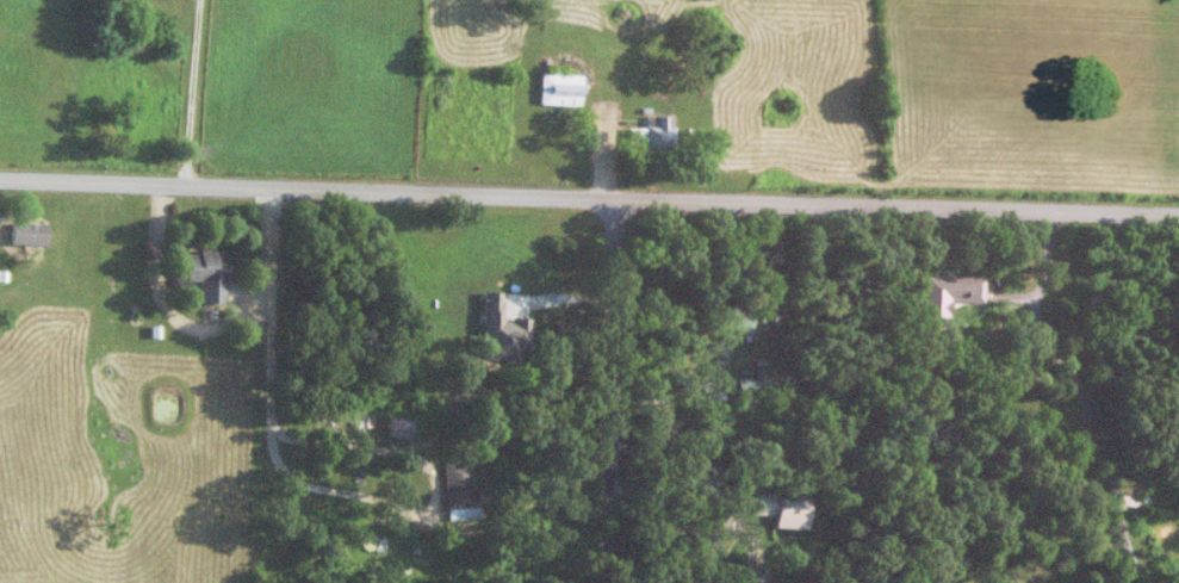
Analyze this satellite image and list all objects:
building: (559, 88)
building: (651, 131)
road: (589, 200)
building: (27, 234)
building: (206, 274)
road: (161, 279)
building: (947, 291)
building: (725, 321)
road: (720, 351)
building: (749, 389)
road: (615, 391)
road: (1081, 397)
road: (657, 399)
road: (273, 421)
building: (398, 427)
building: (460, 491)
road: (689, 506)
building: (777, 508)
building: (752, 575)

